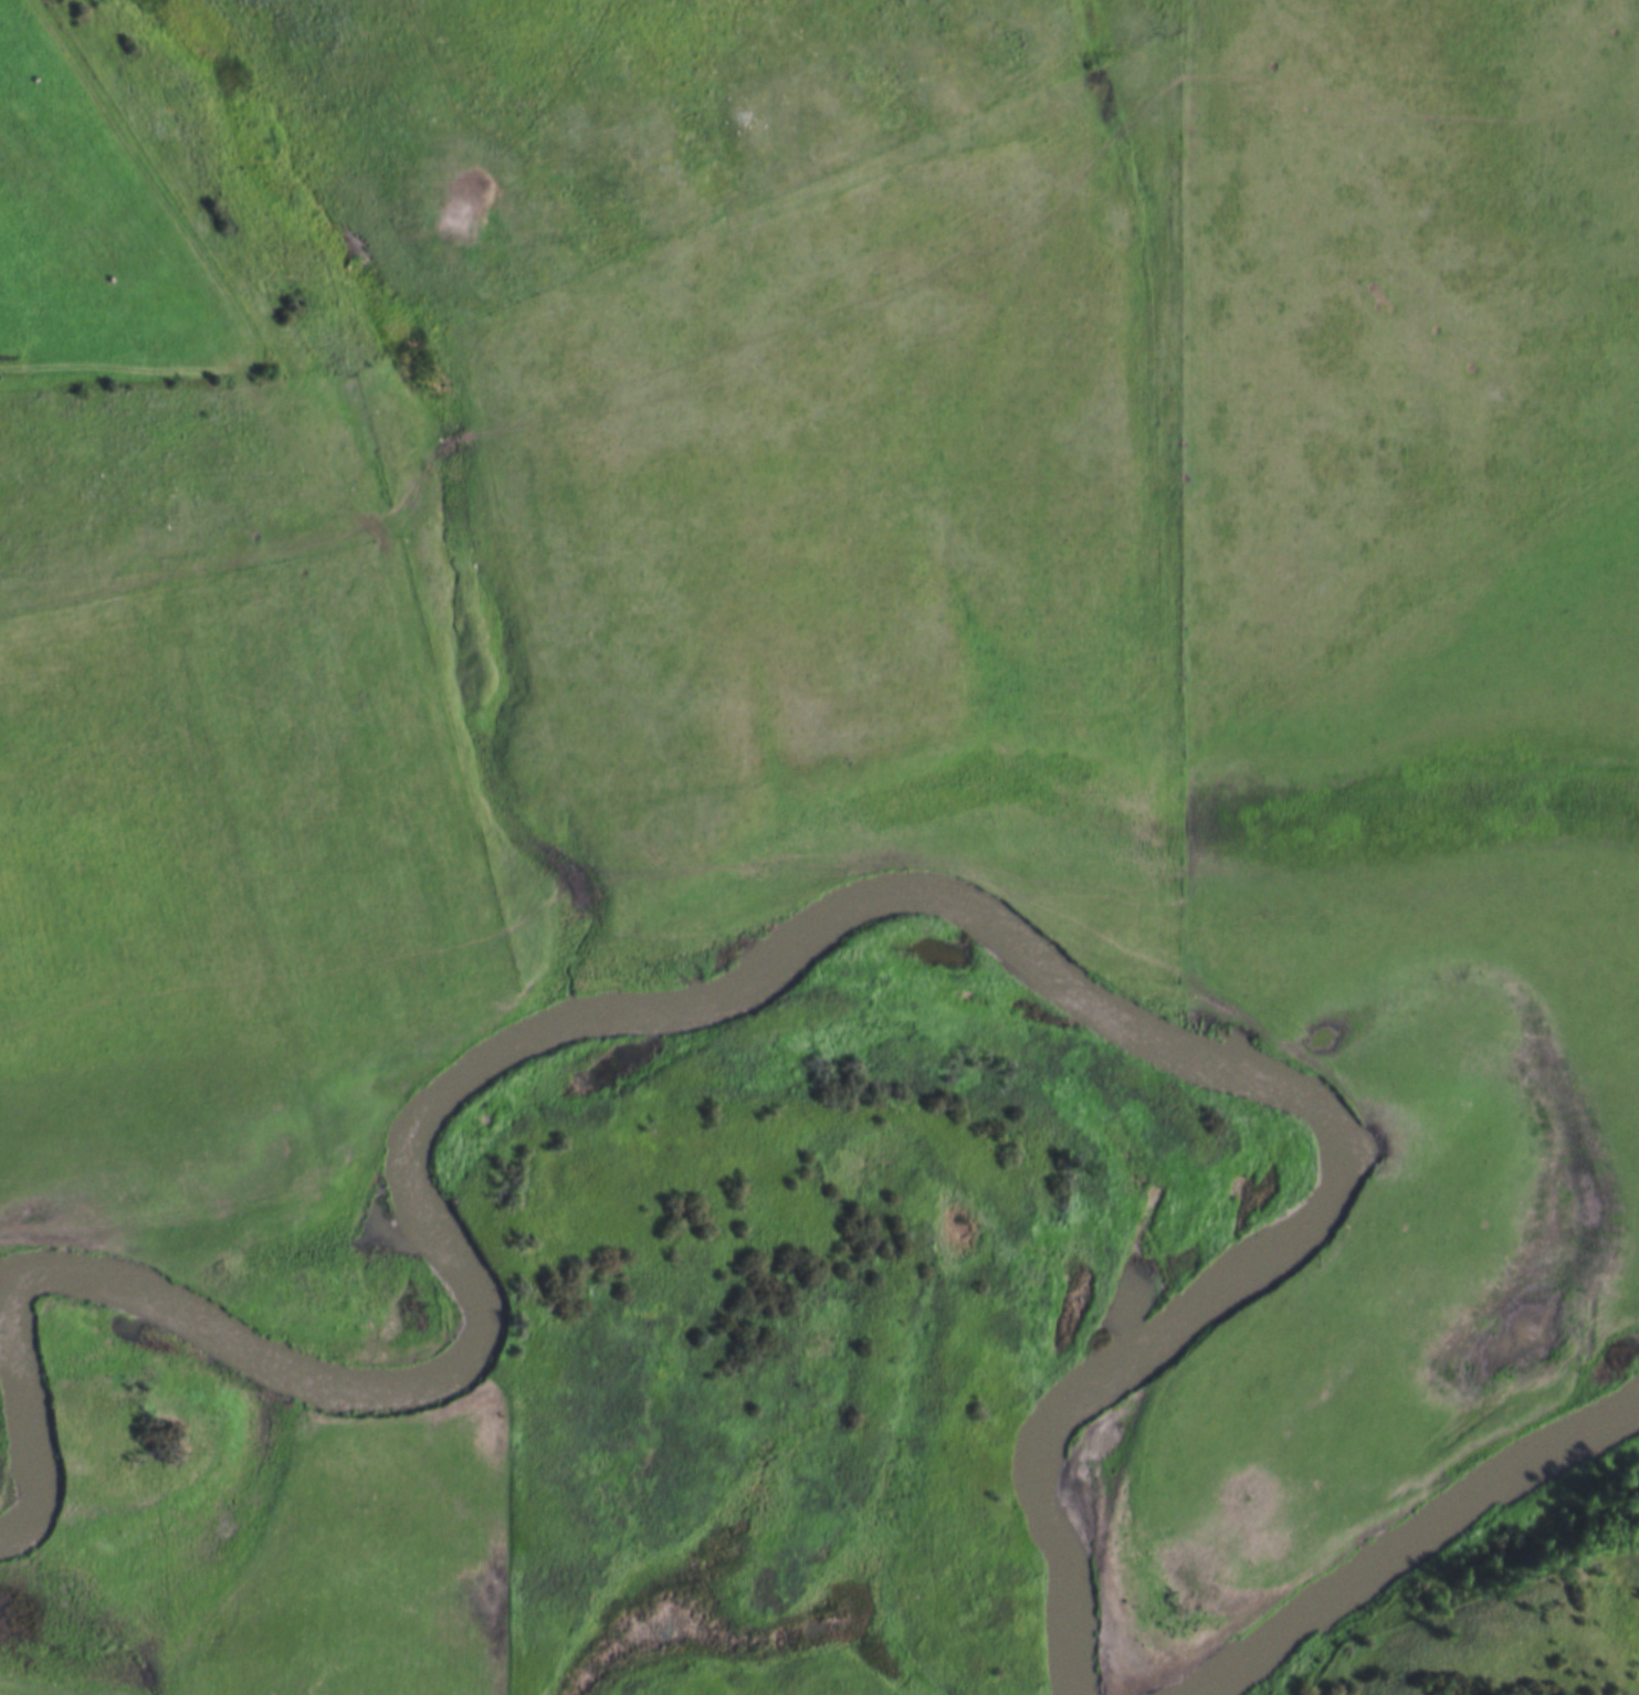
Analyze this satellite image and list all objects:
road: (148, 180)
river: (1254, 1057)
river: (390, 1193)
river: (149, 1309)
river: (13, 1417)
river: (1393, 1520)

